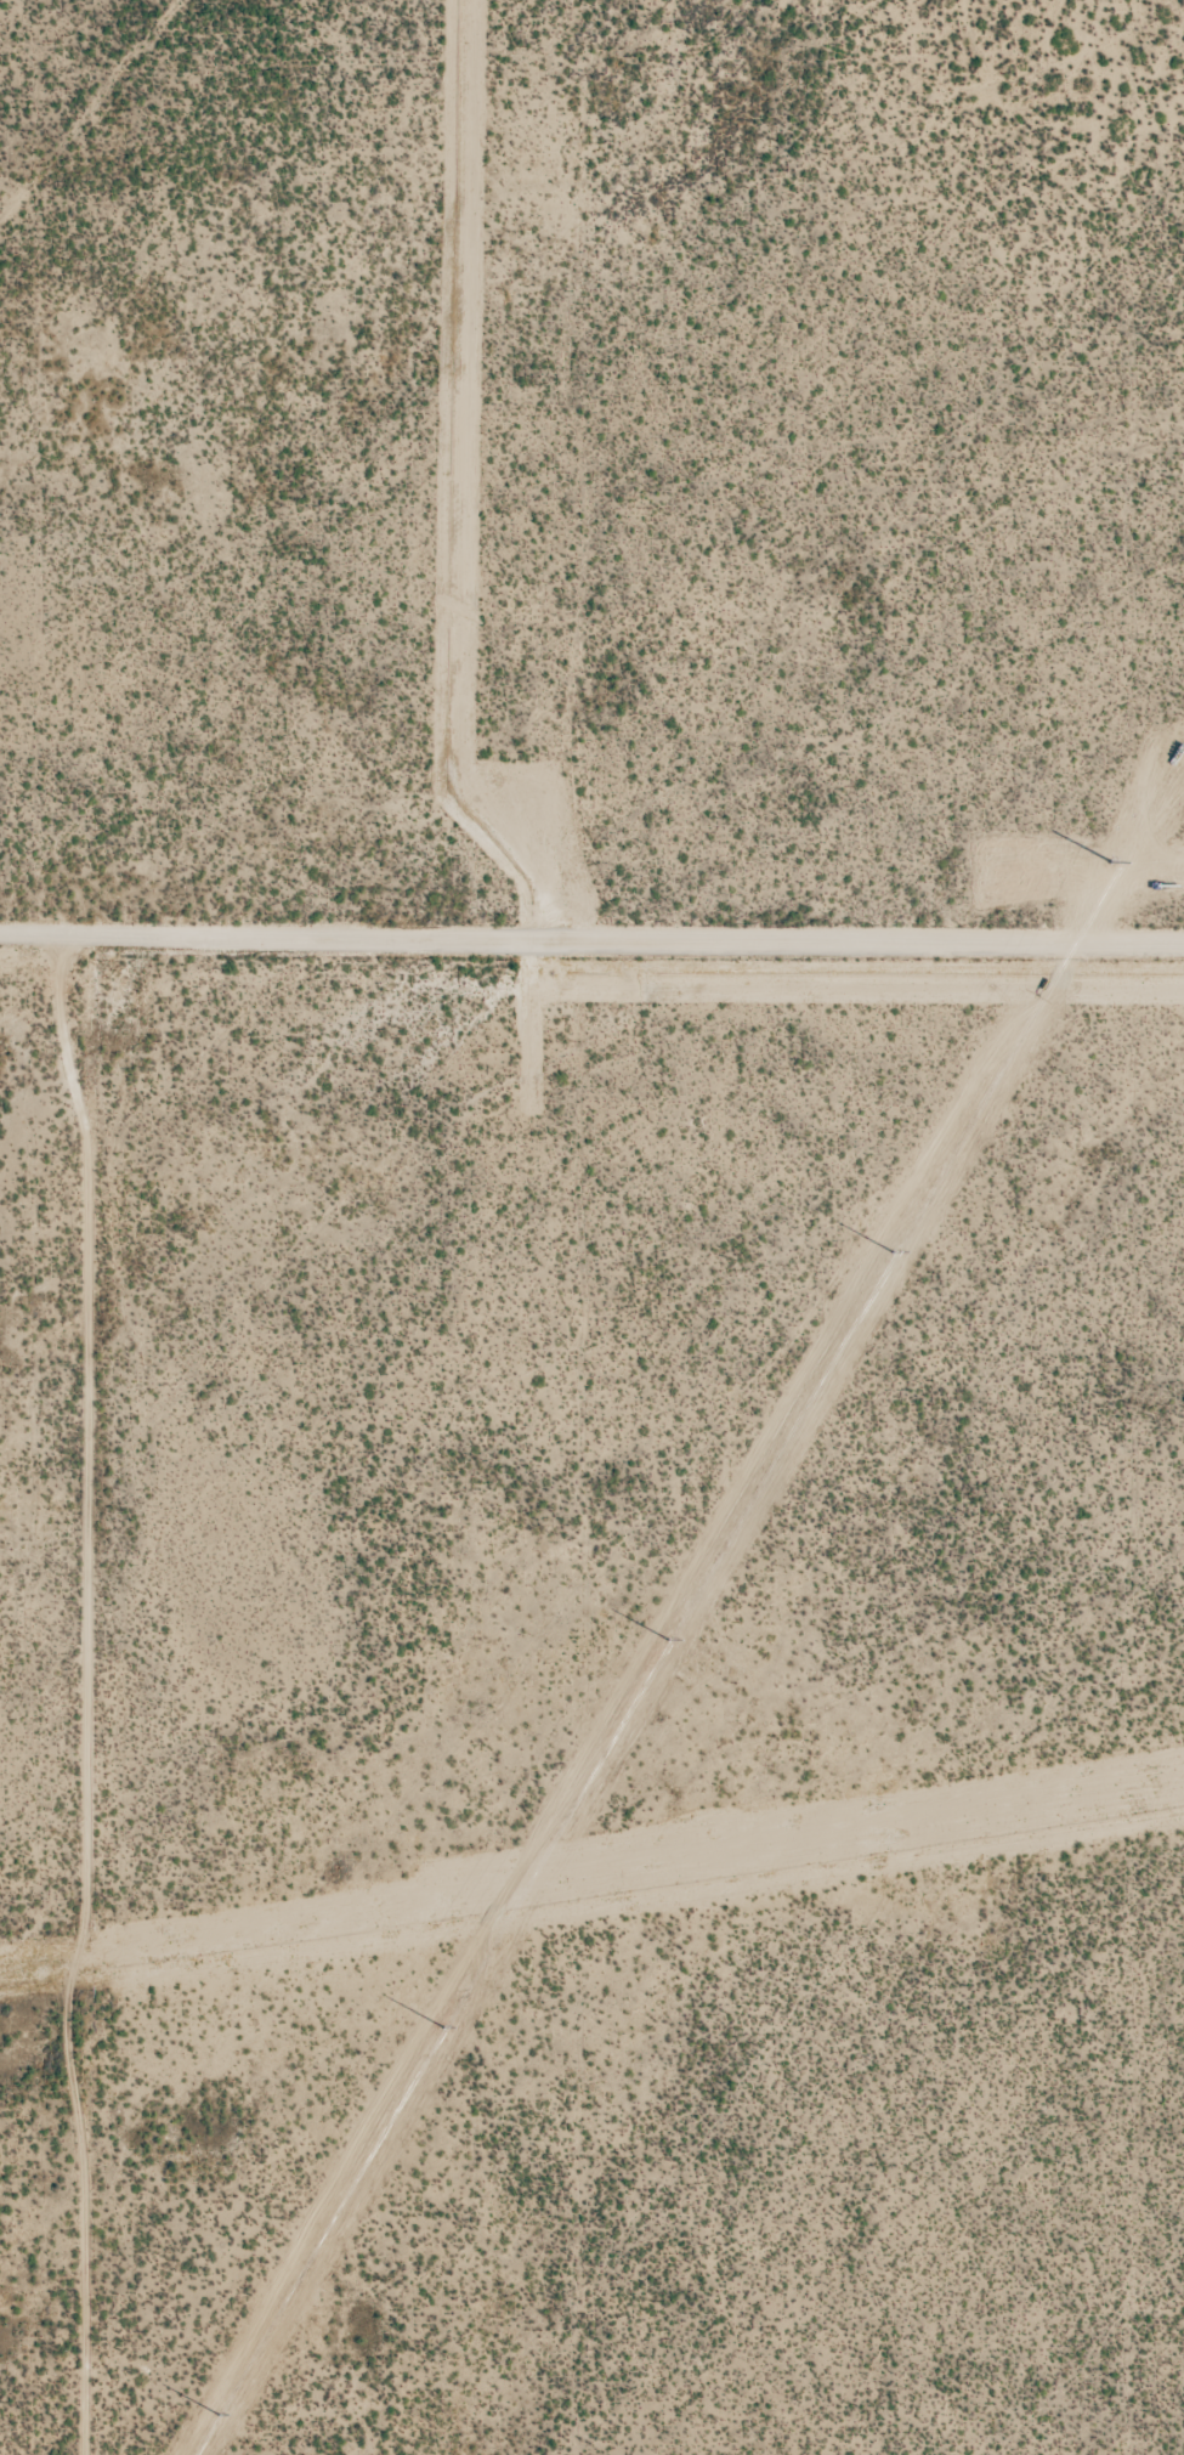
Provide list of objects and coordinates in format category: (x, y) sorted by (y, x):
power tower: (1111, 864)
road: (591, 951)
power tower: (895, 1254)
power tower: (670, 1642)
power tower: (446, 2029)
power tower: (220, 2417)

